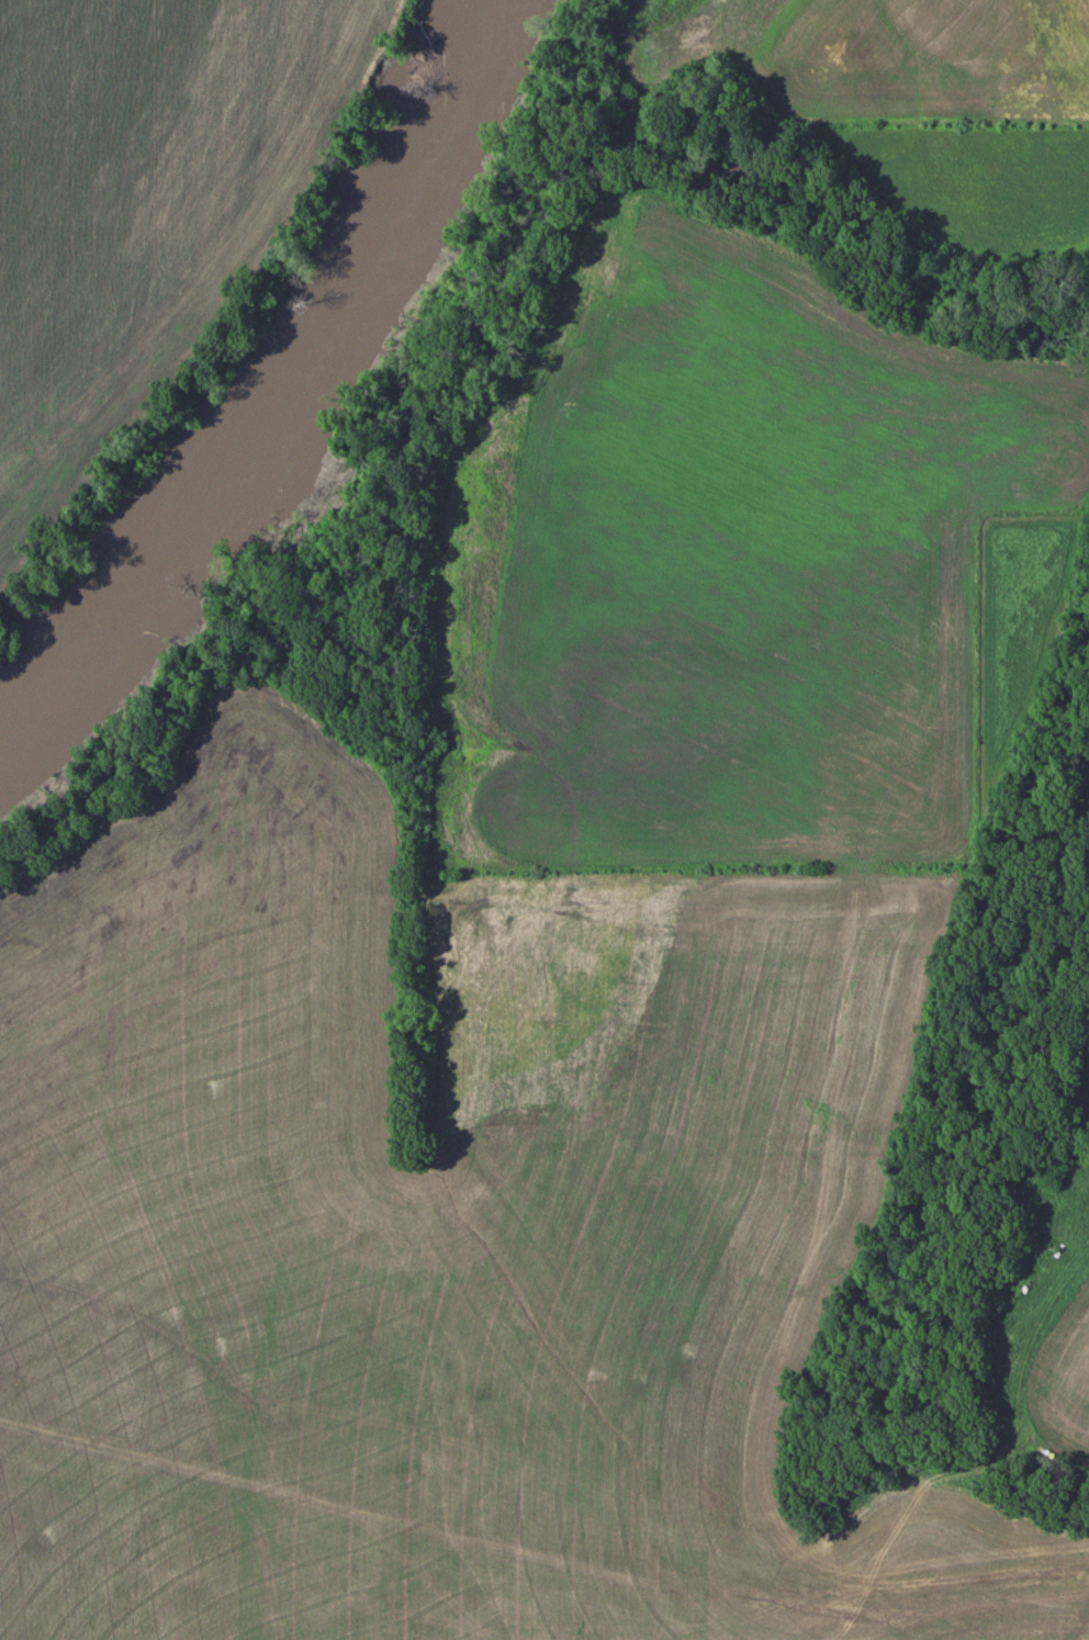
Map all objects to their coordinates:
river: (294, 389)

